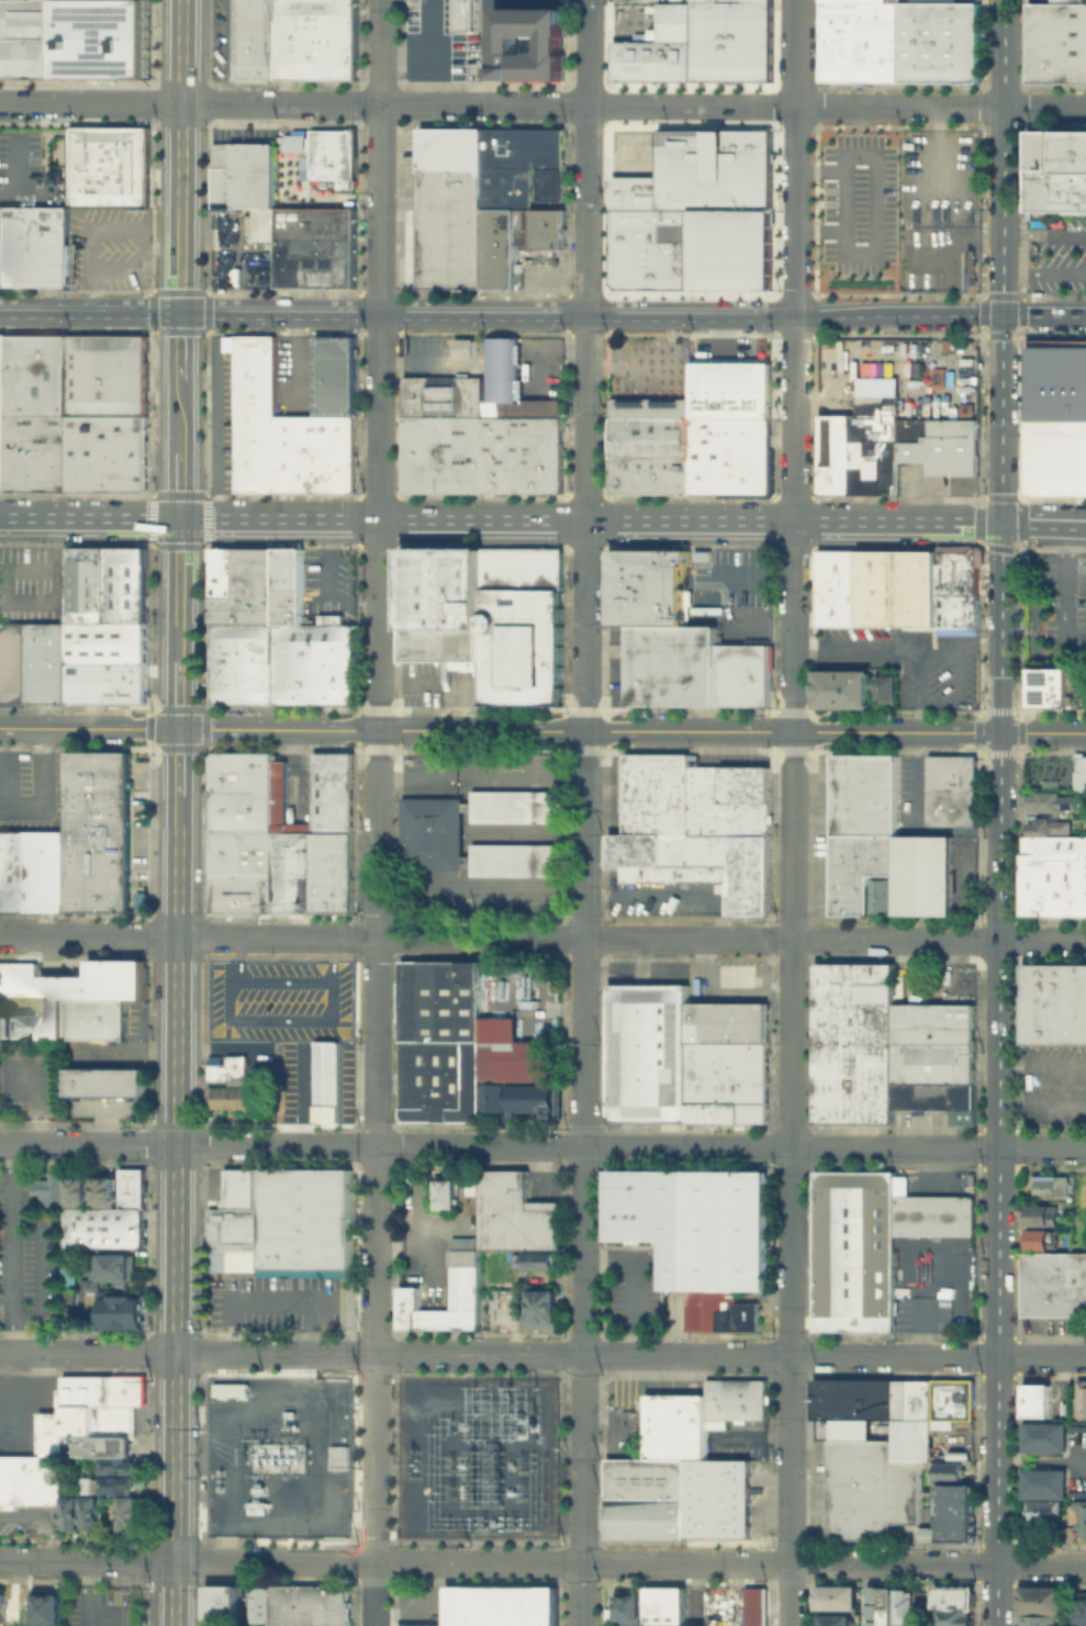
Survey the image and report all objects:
building: (636, 0)
parking lot: (1039, 0)
building: (36, 1)
building: (112, 1)
building: (838, 1)
building: (1067, 1)
building: (464, 15)
road: (486, 21)
building: (504, 38)
building: (293, 40)
building: (31, 41)
building: (105, 41)
building: (858, 42)
building: (937, 42)
building: (1056, 42)
road: (490, 43)
road: (504, 43)
road: (528, 43)
road: (551, 43)
road: (574, 43)
building: (701, 43)
road: (227, 52)
road: (428, 52)
building: (496, 72)
building: (506, 72)
building: (515, 72)
building: (524, 72)
building: (540, 72)
road: (486, 74)
building: (533, 74)
building: (549, 74)
building: (558, 74)
road: (542, 104)
building: (324, 152)
road: (936, 153)
road: (180, 156)
building: (517, 162)
parking lot: (34, 166)
building: (108, 167)
building: (1056, 172)
building: (221, 173)
parking lot: (938, 177)
building: (551, 182)
building: (254, 183)
road: (844, 200)
building: (451, 206)
parking lot: (858, 209)
building: (695, 213)
building: (538, 227)
road: (103, 231)
road: (1044, 234)
building: (33, 247)
building: (294, 247)
building: (334, 247)
building: (499, 247)
parking lot: (108, 248)
parking lot: (1055, 251)
parking lot: (938, 258)
road: (1004, 260)
road: (120, 270)
building: (136, 272)
road: (1044, 272)
road: (90, 313)
traffic signals: (180, 314)
traffic signals: (1003, 316)
road: (632, 319)
road: (933, 319)
road: (723, 337)
road: (180, 346)
building: (463, 347)
road: (545, 349)
road: (414, 359)
road: (651, 367)
building: (33, 373)
building: (105, 373)
building: (337, 373)
building: (508, 380)
building: (729, 388)
building: (443, 394)
road: (829, 394)
building: (259, 411)
road: (179, 415)
building: (1055, 416)
building: (862, 433)
building: (654, 439)
building: (939, 444)
building: (13, 451)
building: (46, 451)
building: (105, 451)
building: (317, 451)
building: (441, 452)
building: (501, 452)
building: (540, 452)
building: (709, 453)
building: (748, 455)
building: (626, 474)
road: (179, 484)
road: (89, 517)
traffic signals: (179, 518)
road: (485, 519)
road: (896, 522)
traffic signals: (1001, 522)
road: (1016, 522)
road: (1059, 523)
building: (520, 567)
building: (676, 567)
building: (627, 568)
building: (656, 568)
building: (958, 568)
building: (838, 569)
parking lot: (731, 576)
parking lot: (32, 584)
building: (86, 584)
building: (125, 584)
parking lot: (332, 585)
road: (179, 590)
road: (1061, 592)
building: (908, 593)
road: (32, 602)
building: (440, 603)
building: (647, 606)
building: (838, 607)
building: (332, 619)
road: (1033, 623)
building: (275, 636)
building: (105, 642)
building: (519, 644)
road: (895, 646)
road: (959, 649)
building: (12, 661)
building: (45, 662)
building: (672, 665)
building: (742, 673)
building: (105, 682)
building: (885, 686)
building: (1051, 686)
building: (841, 687)
road: (179, 694)
building: (1085, 694)
road: (958, 696)
traffic signals: (178, 728)
road: (291, 729)
road: (835, 731)
road: (178, 760)
building: (1079, 772)
road: (378, 781)
parking lot: (32, 789)
building: (953, 789)
building: (1052, 801)
road: (178, 809)
building: (247, 810)
road: (583, 812)
road: (791, 812)
building: (695, 827)
building: (1045, 827)
building: (98, 832)
building: (433, 832)
building: (884, 842)
building: (302, 854)
building: (1051, 866)
building: (33, 872)
building: (883, 893)
building: (1064, 899)
road: (542, 938)
road: (235, 957)
road: (327, 958)
building: (18, 977)
building: (88, 989)
parking lot: (281, 1001)
building: (1055, 1003)
road: (325, 1018)
building: (93, 1019)
building: (727, 1021)
building: (933, 1022)
building: (13, 1024)
building: (853, 1041)
building: (457, 1042)
building: (647, 1052)
building: (933, 1063)
road: (1042, 1065)
building: (227, 1068)
road: (999, 1073)
parking lot: (27, 1078)
building: (82, 1080)
building: (123, 1080)
building: (327, 1080)
building: (728, 1080)
parking lot: (1054, 1086)
building: (904, 1095)
building: (925, 1095)
road: (37, 1096)
building: (519, 1097)
building: (228, 1098)
building: (956, 1101)
road: (1042, 1106)
road: (542, 1145)
building: (76, 1186)
building: (1053, 1186)
building: (131, 1187)
building: (237, 1188)
building: (49, 1189)
building: (103, 1189)
building: (445, 1193)
building: (515, 1213)
building: (1044, 1215)
building: (693, 1222)
road: (176, 1225)
building: (287, 1225)
building: (103, 1226)
road: (454, 1226)
building: (1043, 1237)
road: (396, 1241)
road: (417, 1241)
building: (870, 1242)
road: (13, 1248)
parking lot: (27, 1256)
building: (536, 1259)
road: (40, 1266)
building: (112, 1266)
building: (462, 1267)
building: (70, 1271)
building: (1053, 1282)
road: (632, 1283)
building: (69, 1296)
road: (257, 1298)
building: (539, 1308)
building: (120, 1309)
building: (718, 1310)
road: (920, 1311)
road: (542, 1354)
building: (228, 1389)
building: (1079, 1397)
building: (911, 1399)
building: (732, 1400)
building: (1035, 1400)
building: (853, 1405)
building: (92, 1408)
building: (932, 1418)
building: (654, 1425)
building: (674, 1425)
building: (694, 1425)
building: (1043, 1436)
building: (98, 1445)
power substation: (280, 1456)
building: (337, 1457)
power substation: (479, 1457)
building: (119, 1465)
building: (945, 1470)
building: (716, 1473)
building: (645, 1477)
building: (30, 1479)
building: (119, 1482)
building: (1044, 1483)
building: (90, 1484)
building: (871, 1489)
power tower: (481, 1493)
building: (954, 1493)
power tower: (391, 1505)
building: (1045, 1510)
building: (70, 1511)
building: (128, 1511)
building: (90, 1513)
building: (716, 1513)
building: (954, 1515)
building: (1081, 1515)
building: (643, 1516)
road: (40, 1523)
building: (947, 1533)
road: (187, 1560)
road: (729, 1563)
road: (82, 1593)
building: (952, 1593)
road: (374, 1594)
building: (836, 1597)
building: (1039, 1599)
building: (213, 1602)
building: (229, 1602)
building: (259, 1603)
building: (1, 1604)
building: (45, 1604)
parking lot: (99, 1605)
building: (306, 1605)
building: (499, 1605)
building: (878, 1605)
building: (903, 1605)
building: (952, 1605)
building: (667, 1606)
building: (757, 1606)
building: (628, 1608)
building: (1079, 1611)
building: (953, 1617)
building: (833, 1619)
building: (1038, 1619)
building: (52, 1625)

